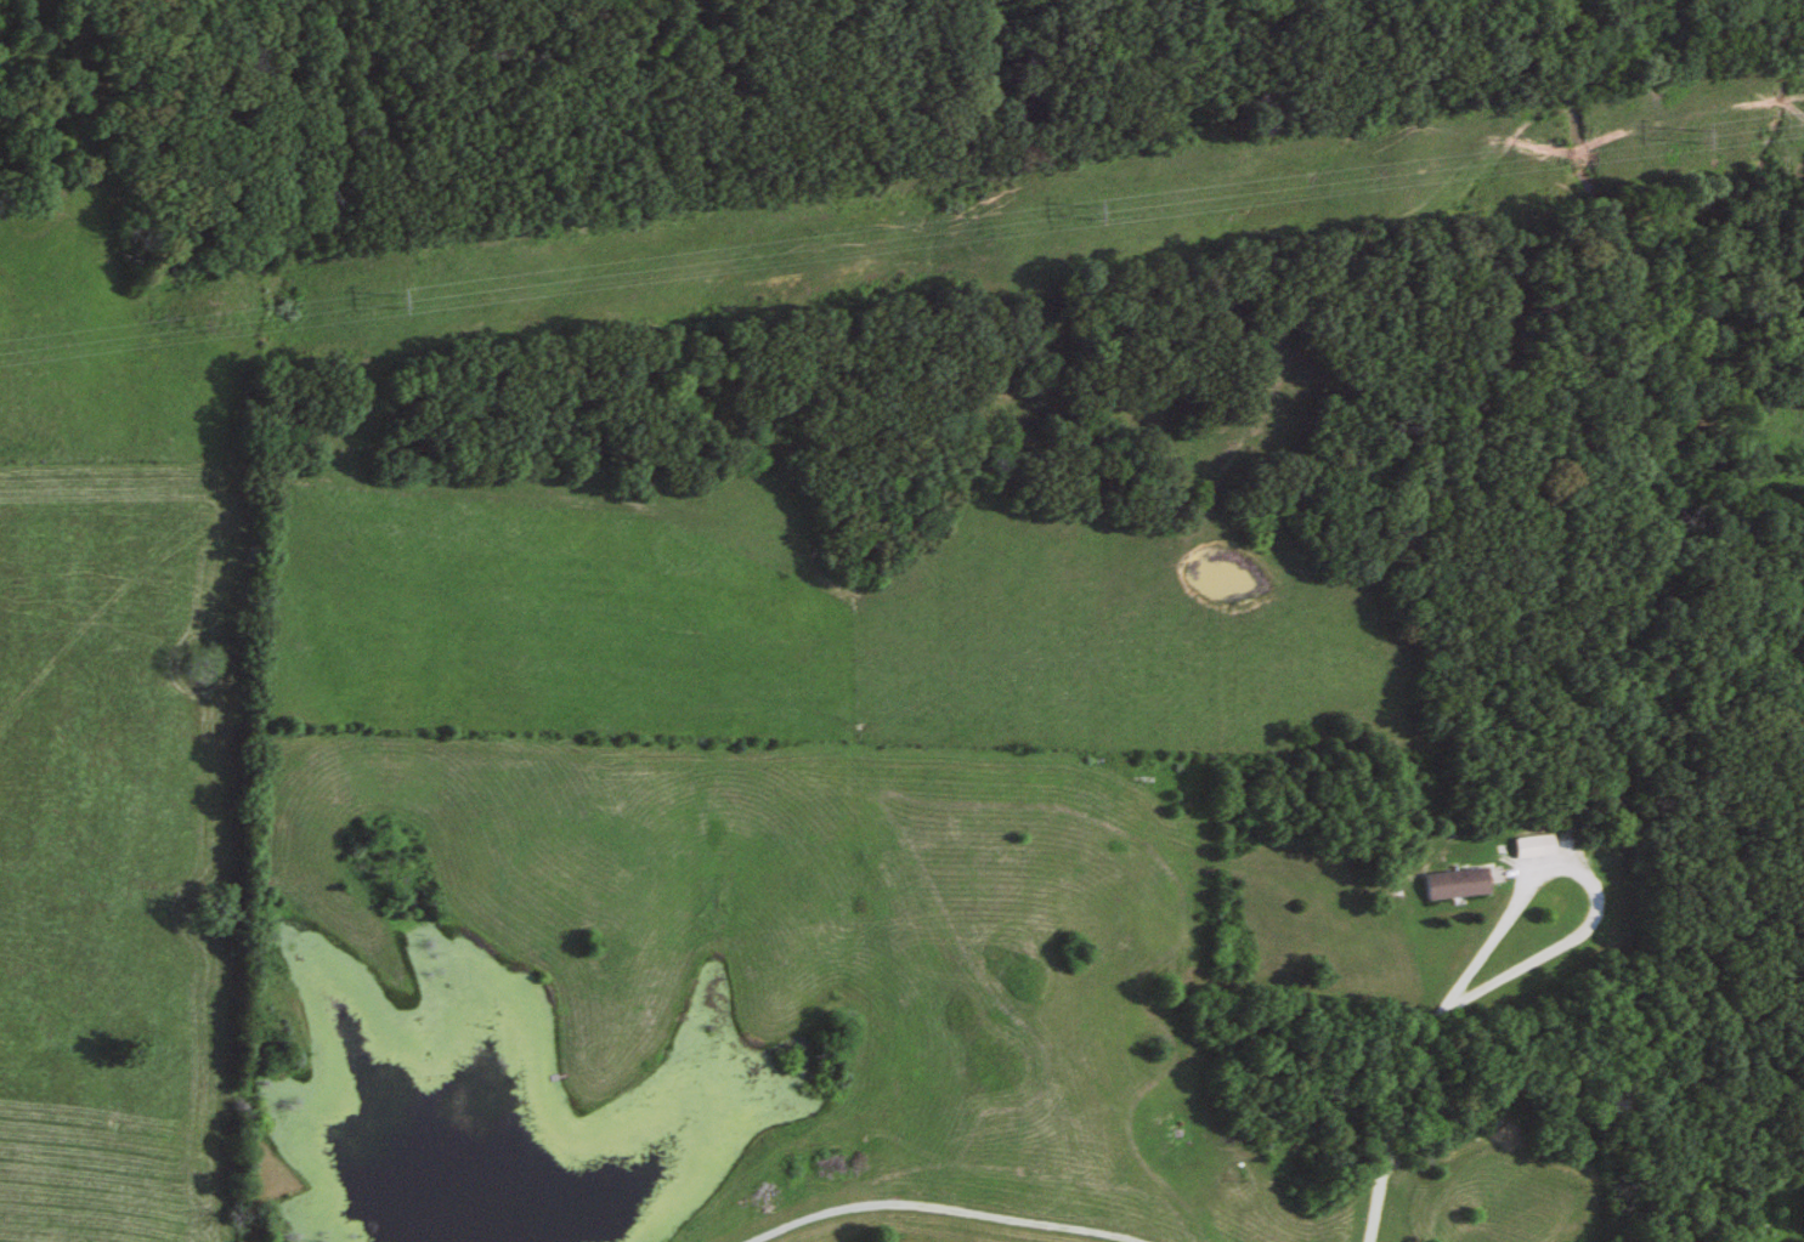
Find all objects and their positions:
power tower: (1686, 135)
power tower: (1084, 214)
power tower: (388, 299)
building: (1527, 846)
road: (1583, 877)
building: (1447, 884)
road: (1387, 1121)
road: (940, 1207)

